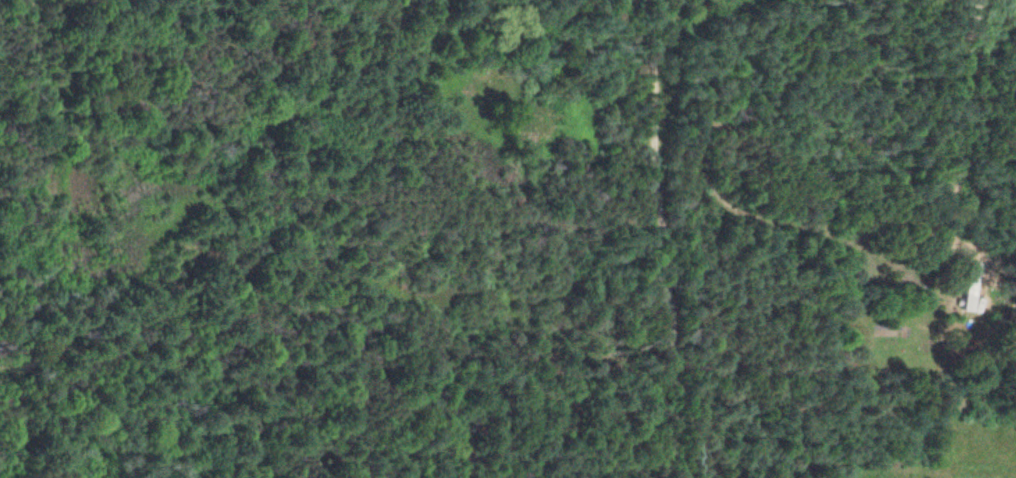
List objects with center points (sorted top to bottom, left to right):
road: (406, 239)
building: (967, 288)

